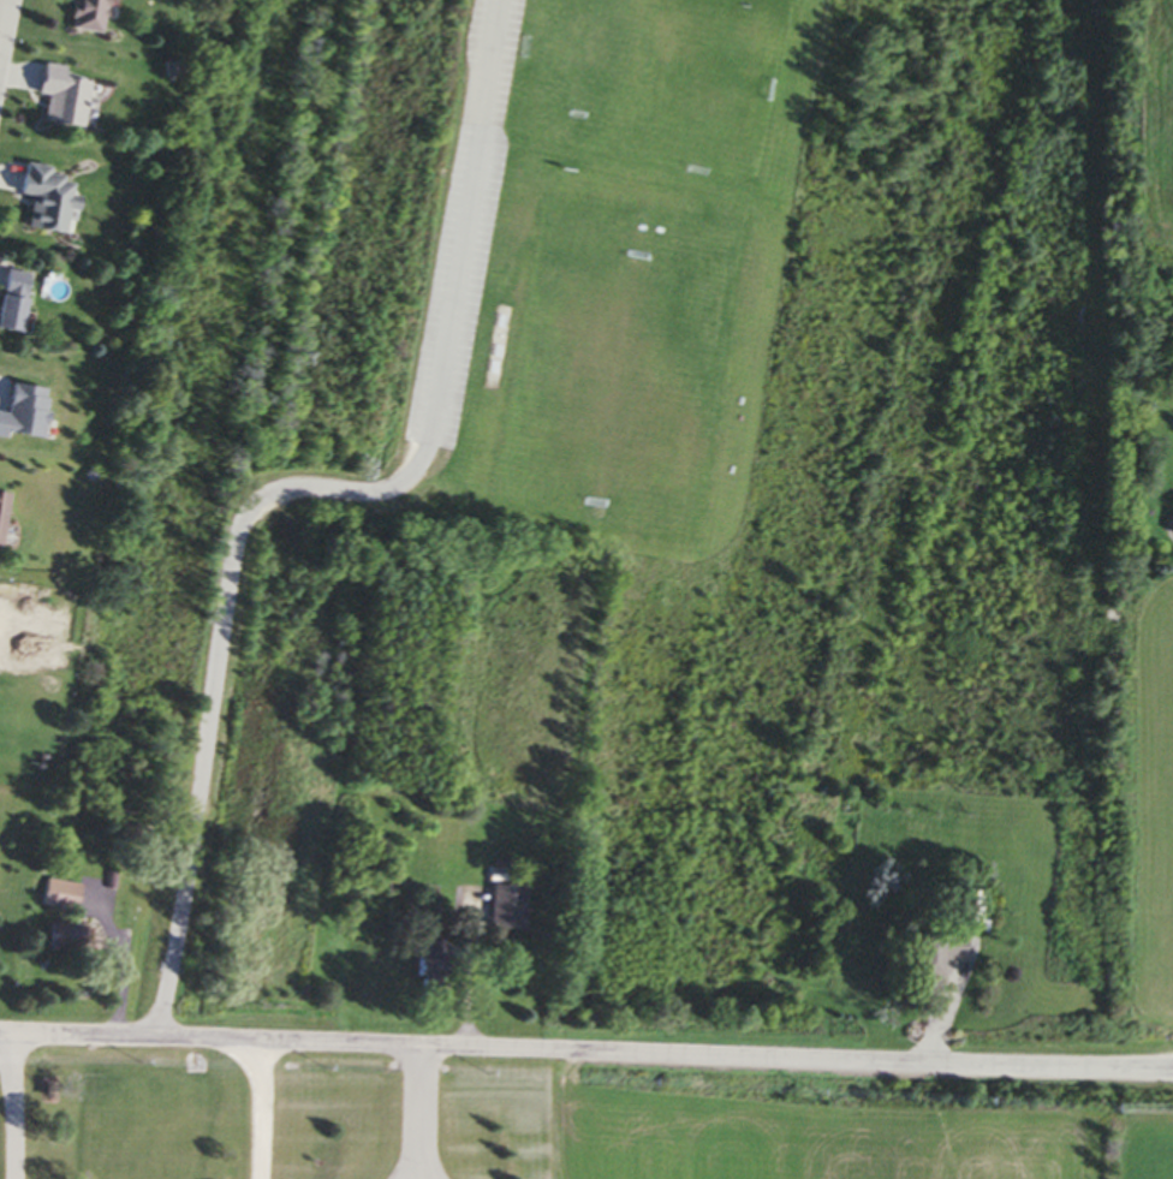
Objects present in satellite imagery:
building: (77, 16)
road: (4, 23)
park: (648, 78)
building: (55, 99)
building: (37, 200)
building: (8, 299)
park: (514, 347)
park: (618, 367)
building: (18, 412)
road: (303, 488)
building: (0, 494)
building: (1172, 532)
building: (56, 895)
building: (971, 907)
building: (501, 909)
building: (58, 937)
building: (933, 953)
road: (586, 1050)
road: (20, 1106)
road: (256, 1109)
road: (415, 1113)

